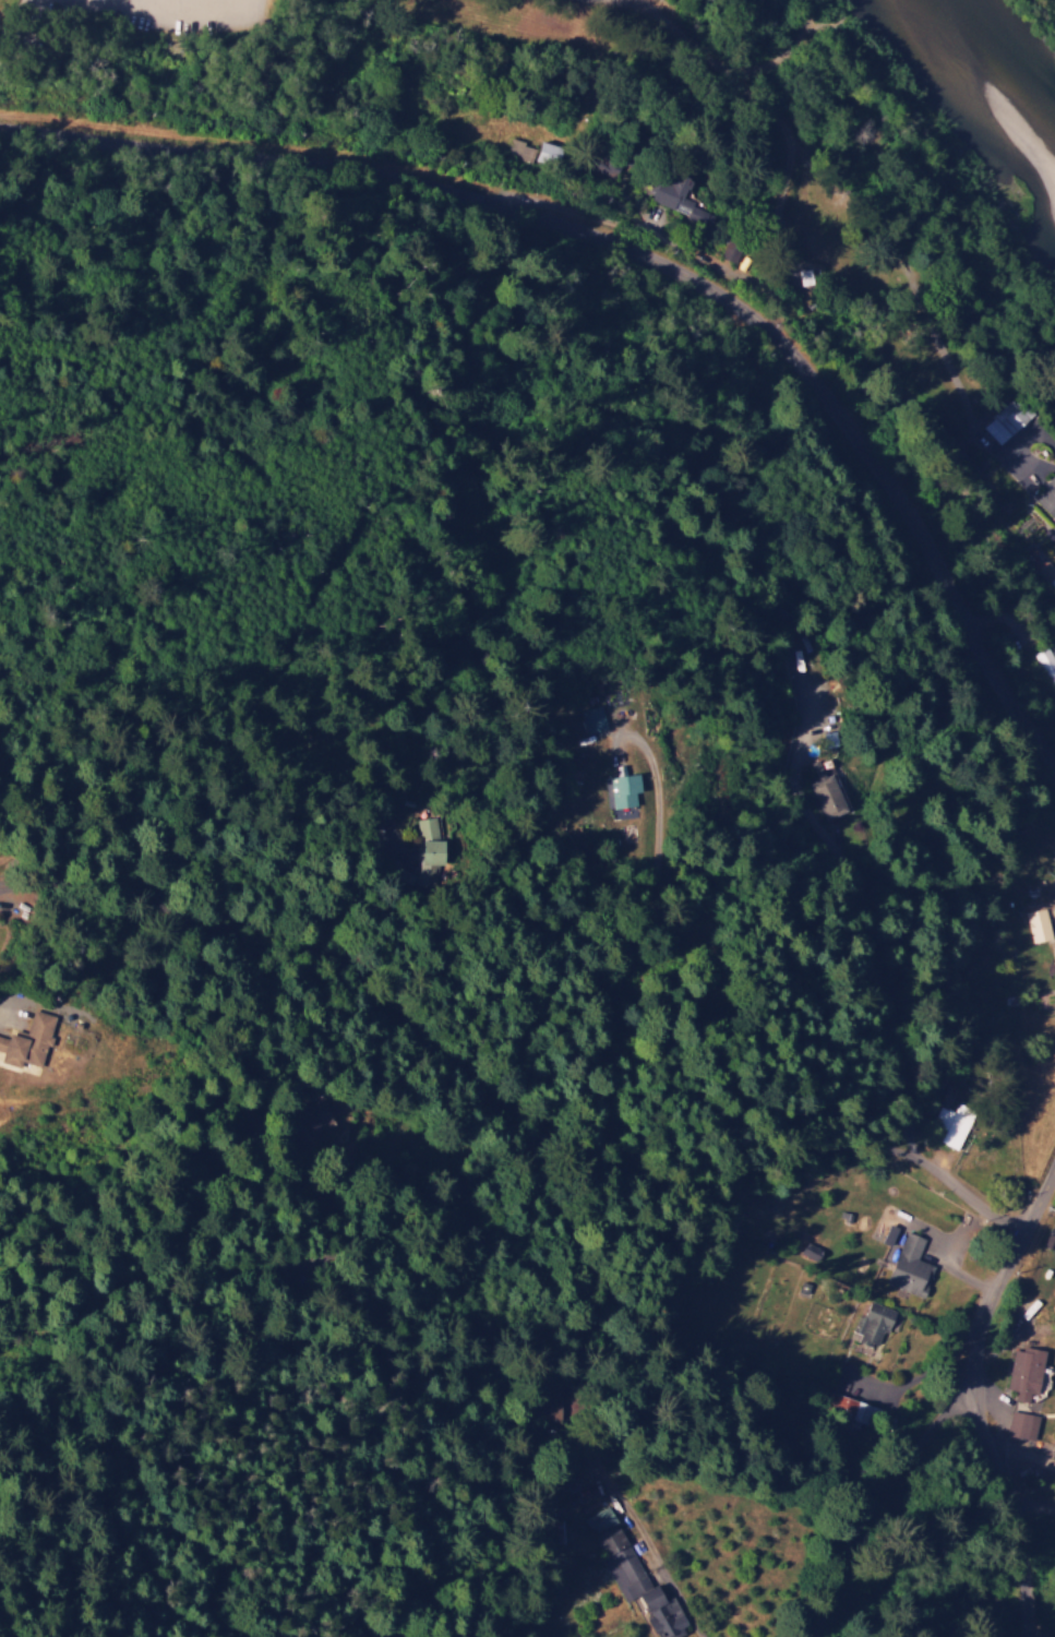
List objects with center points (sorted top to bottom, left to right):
river: (1017, 60)
building: (521, 150)
building: (550, 152)
building: (681, 196)
railway: (607, 199)
building: (732, 251)
road: (652, 258)
road: (451, 334)
road: (458, 426)
road: (987, 461)
road: (601, 612)
building: (1047, 664)
building: (594, 718)
road: (503, 734)
building: (624, 789)
building: (830, 797)
building: (430, 845)
building: (1053, 869)
building: (1038, 924)
building: (1054, 939)
road: (303, 940)
road: (926, 995)
building: (28, 1041)
building: (954, 1123)
road: (596, 1172)
building: (910, 1265)
road: (235, 1269)
building: (873, 1325)
building: (1024, 1372)
road: (976, 1395)
building: (1022, 1424)
building: (1046, 1457)
road: (849, 1560)
road: (784, 1561)
building: (636, 1579)

